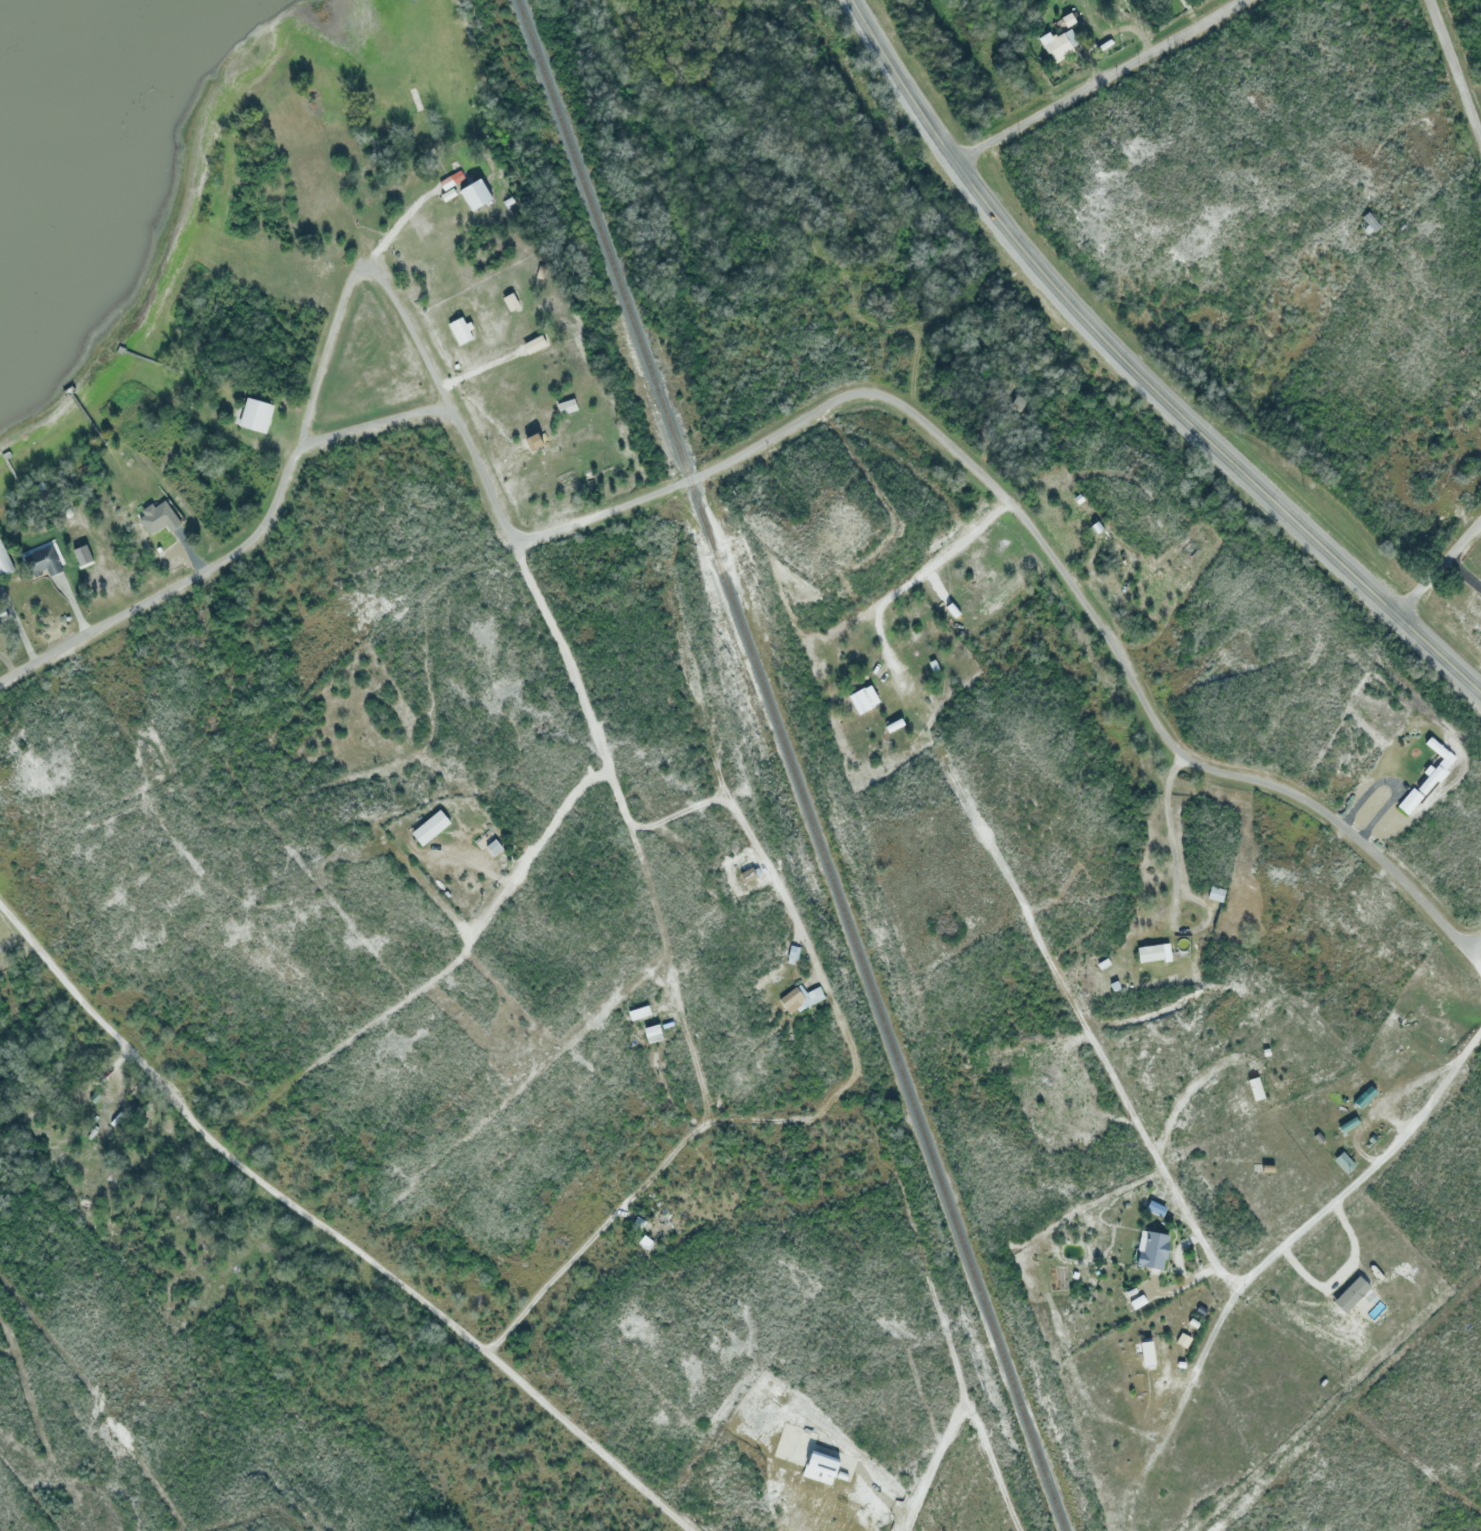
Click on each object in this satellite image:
building: (1106, 1)
building: (1057, 44)
road: (1453, 68)
road: (1099, 81)
building: (475, 195)
building: (1368, 223)
road: (361, 272)
building: (511, 303)
building: (460, 330)
building: (533, 344)
road: (1138, 371)
building: (565, 406)
building: (256, 415)
road: (279, 490)
road: (709, 511)
building: (158, 517)
building: (1097, 526)
road: (1041, 545)
building: (82, 554)
building: (5, 561)
building: (46, 561)
road: (1441, 571)
building: (863, 699)
building: (894, 725)
building: (1436, 747)
railway: (792, 765)
building: (1433, 776)
building: (1410, 800)
building: (430, 828)
building: (494, 848)
building: (747, 875)
building: (1216, 894)
building: (1186, 929)
building: (1153, 952)
road: (1475, 956)
building: (1102, 963)
building: (1114, 985)
building: (816, 995)
building: (793, 998)
building: (650, 1031)
building: (1265, 1052)
building: (1255, 1088)
building: (1364, 1096)
building: (1337, 1112)
building: (1347, 1124)
building: (1343, 1162)
road: (1166, 1177)
building: (1155, 1208)
building: (640, 1222)
road: (330, 1232)
building: (645, 1242)
building: (1152, 1249)
road: (549, 1283)
building: (1137, 1301)
building: (1193, 1323)
building: (1146, 1352)
building: (820, 1467)
road: (930, 1470)

